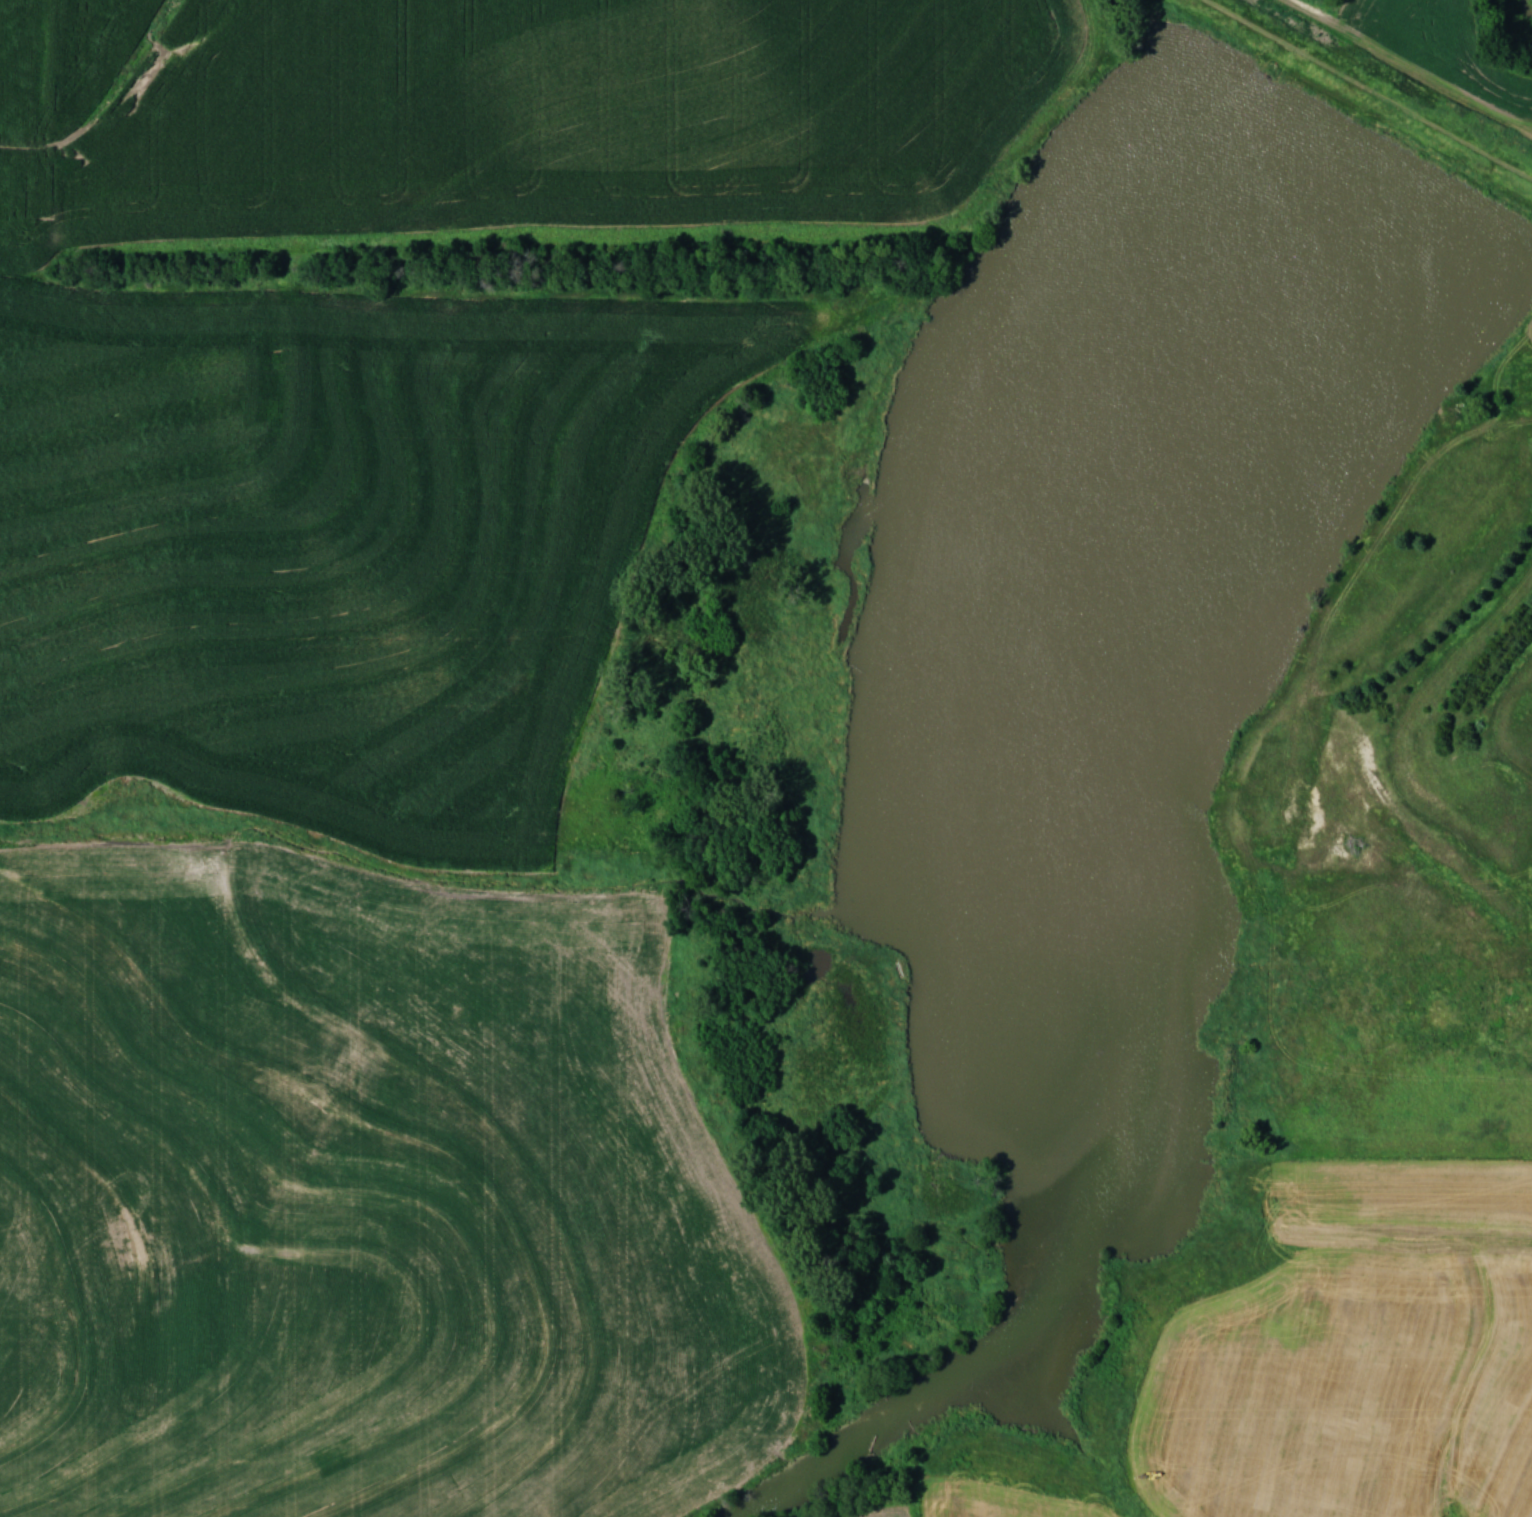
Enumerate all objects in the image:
dam: (1367, 87)

